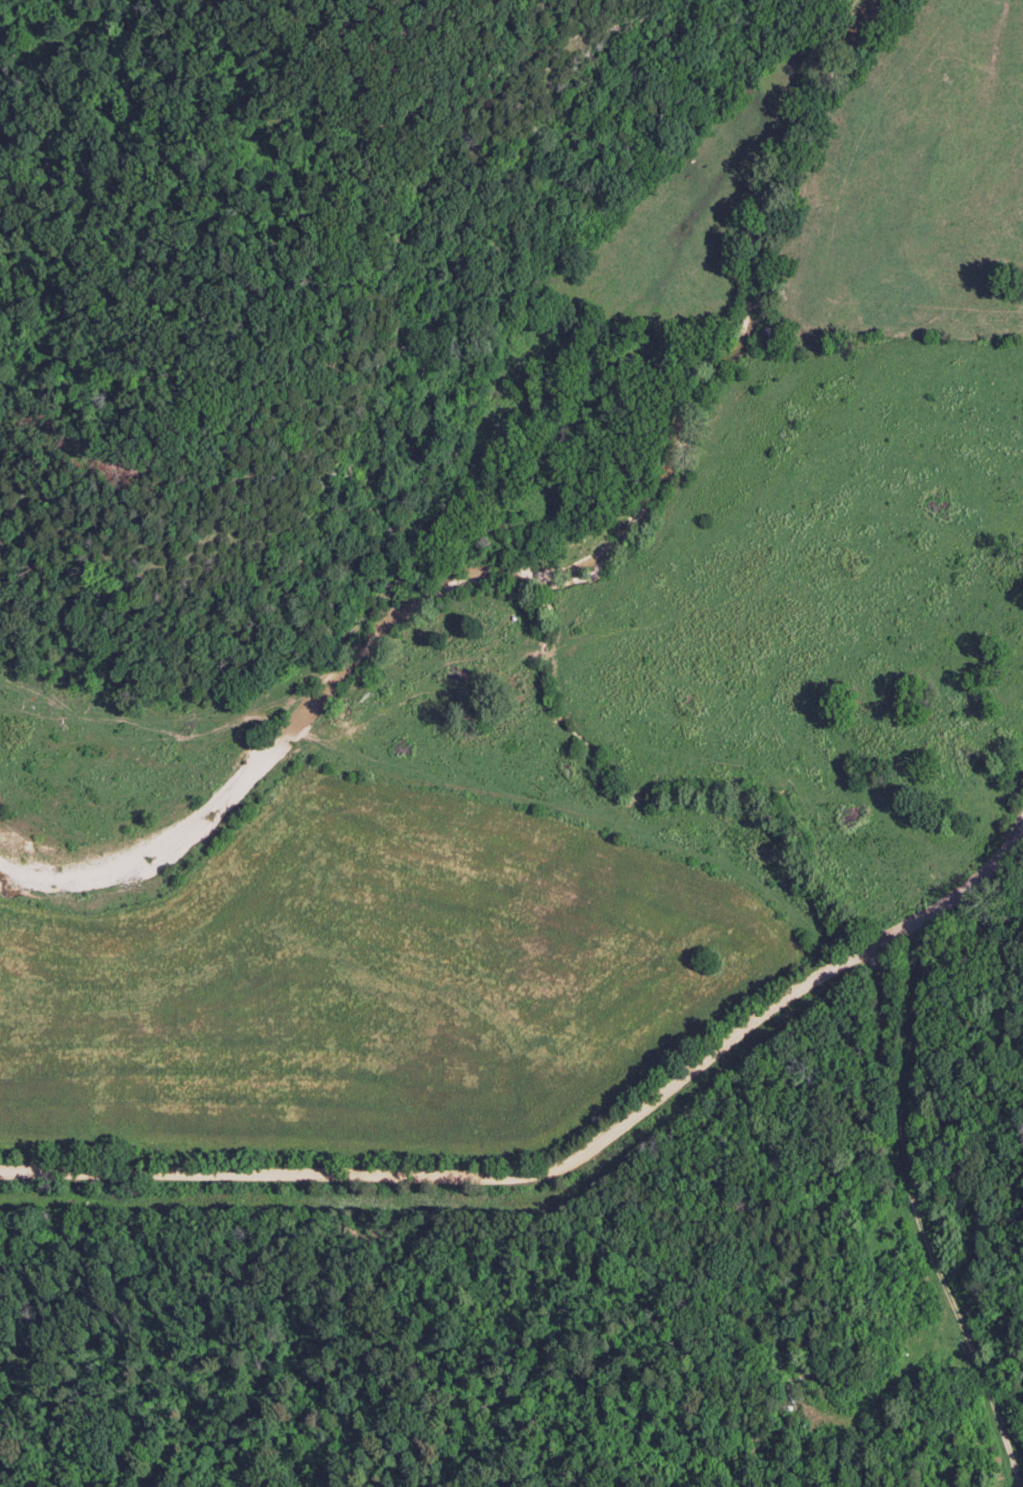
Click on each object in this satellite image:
road: (569, 1162)
road: (919, 1224)
road: (33, 1316)

